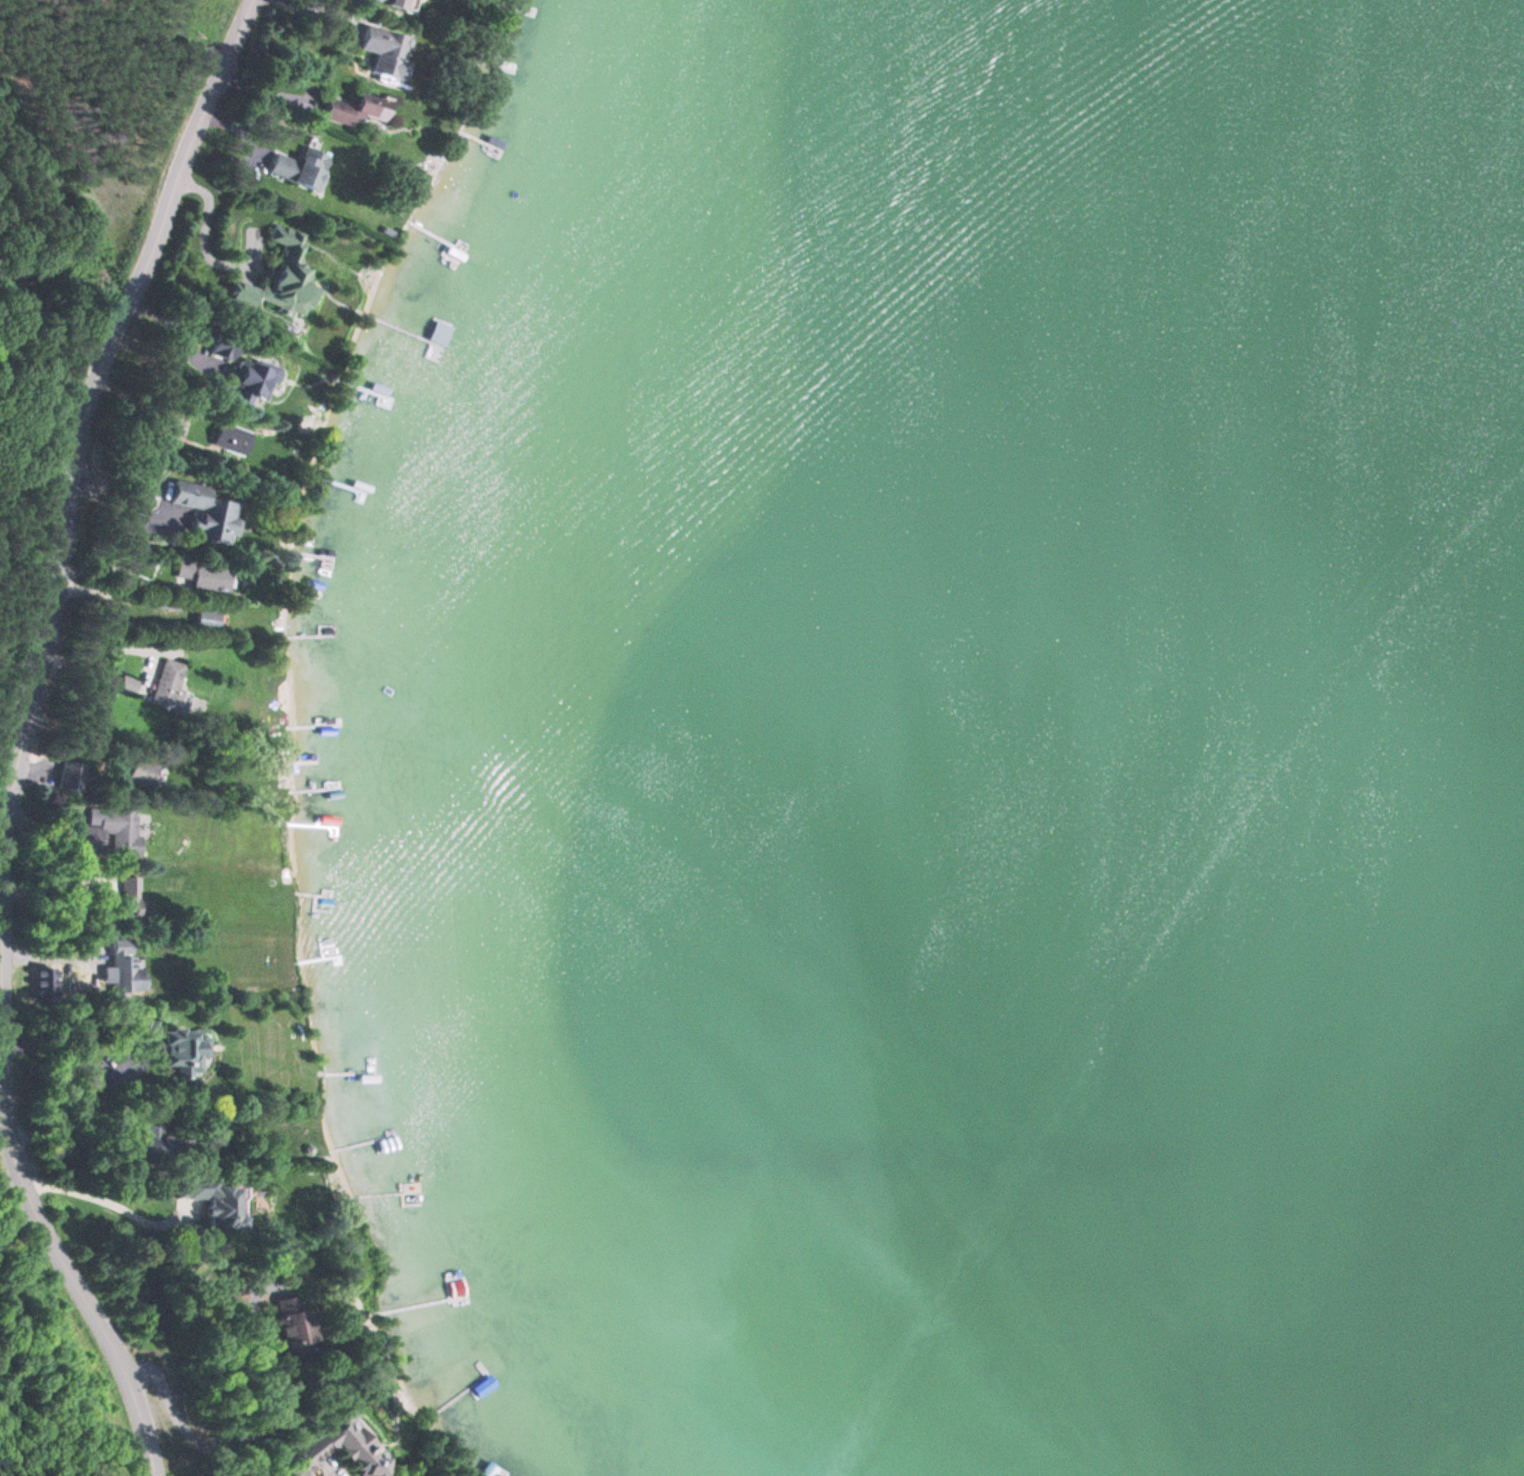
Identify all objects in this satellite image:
building: (411, 2)
building: (386, 50)
building: (357, 108)
building: (299, 168)
building: (231, 439)
building: (206, 512)
building: (205, 576)
building: (206, 620)
building: (127, 684)
building: (168, 686)
road: (22, 735)
building: (143, 771)
building: (70, 775)
building: (114, 828)
road: (4, 852)
building: (129, 897)
building: (125, 971)
building: (101, 1064)
building: (154, 1139)
building: (216, 1201)
building: (409, 1201)
building: (296, 1329)
building: (342, 1430)

